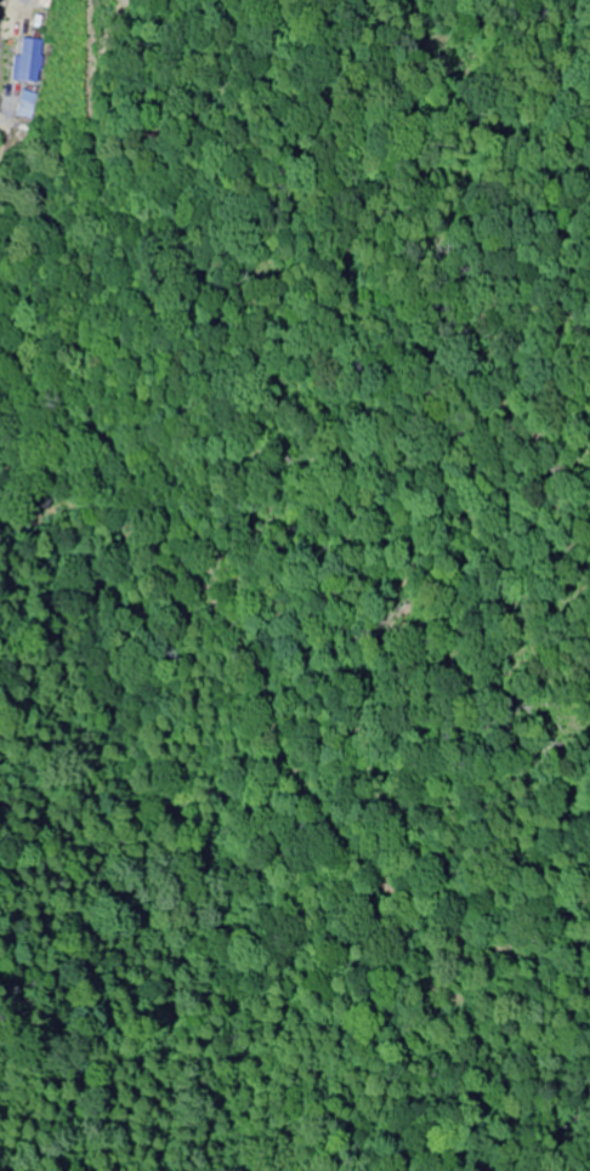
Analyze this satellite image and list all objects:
building: (28, 59)

